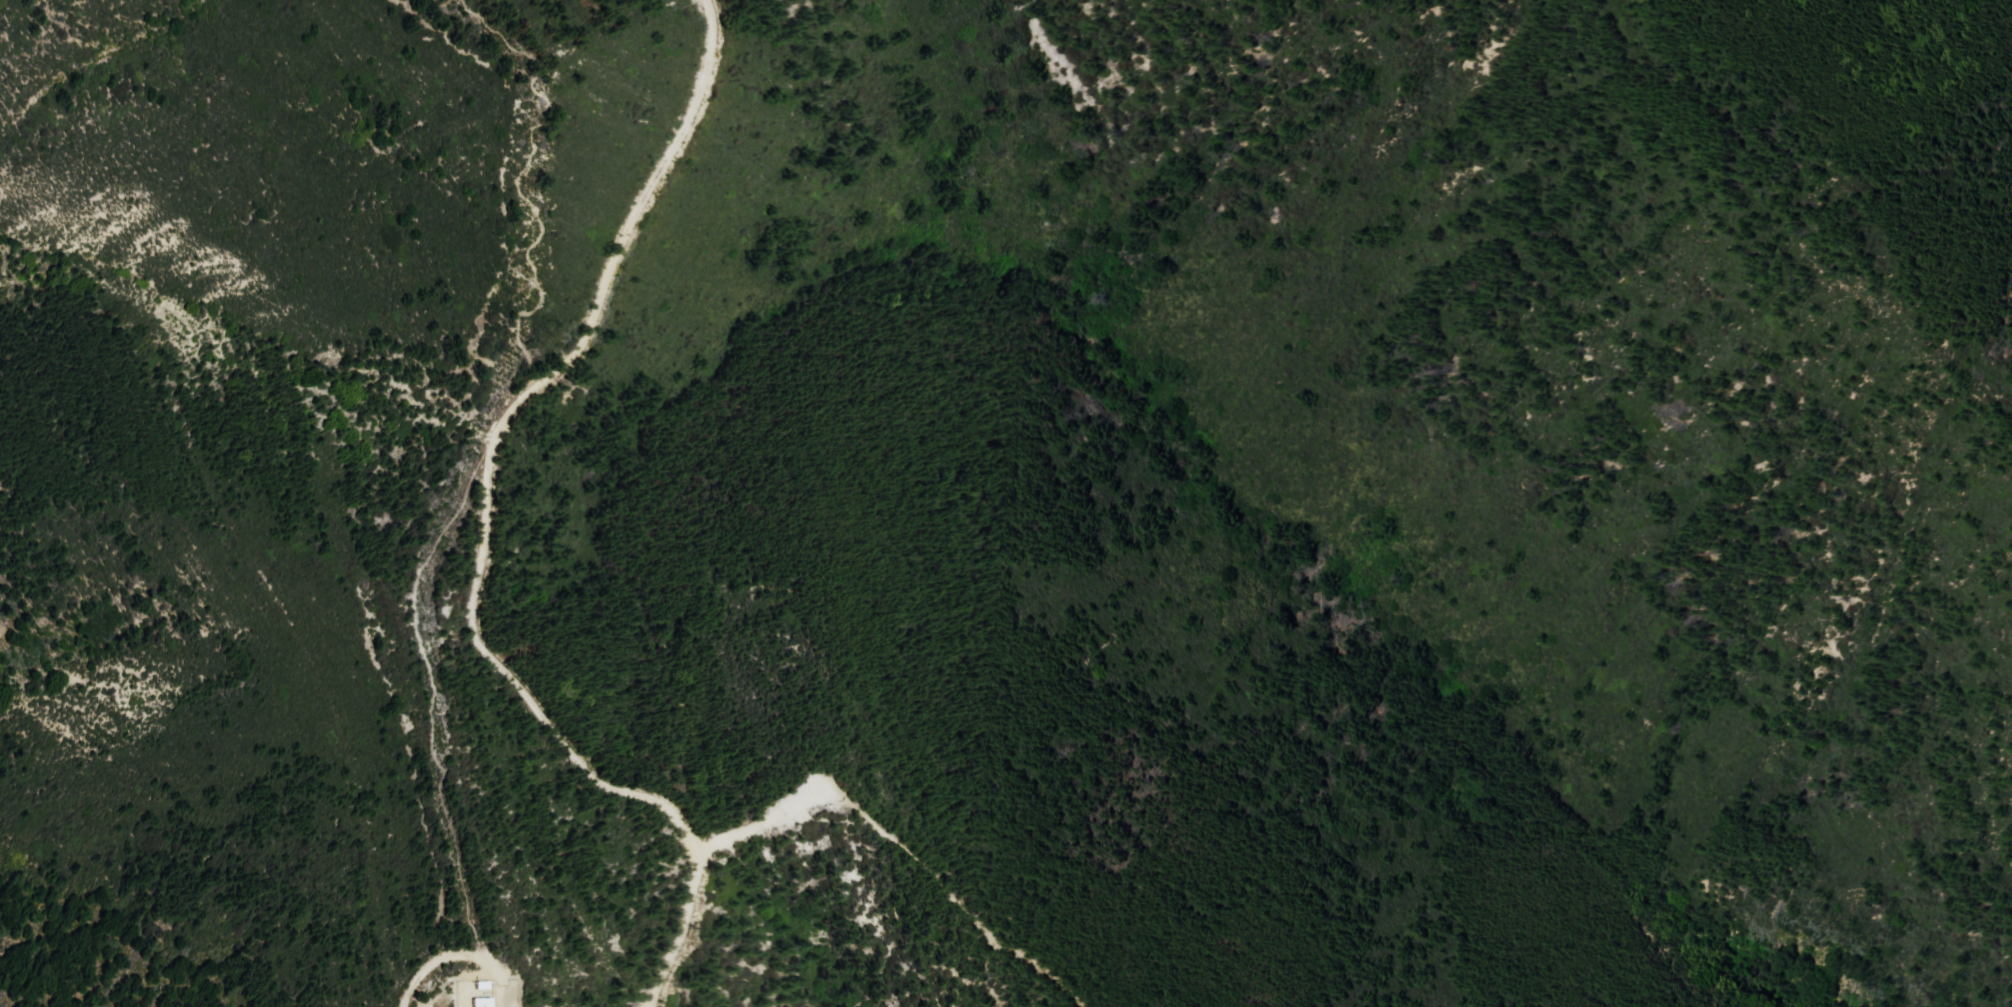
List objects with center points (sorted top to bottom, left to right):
road: (485, 527)
road: (770, 815)
road: (958, 900)
road: (455, 958)
building: (482, 984)
building: (481, 1001)
building: (467, 1003)

